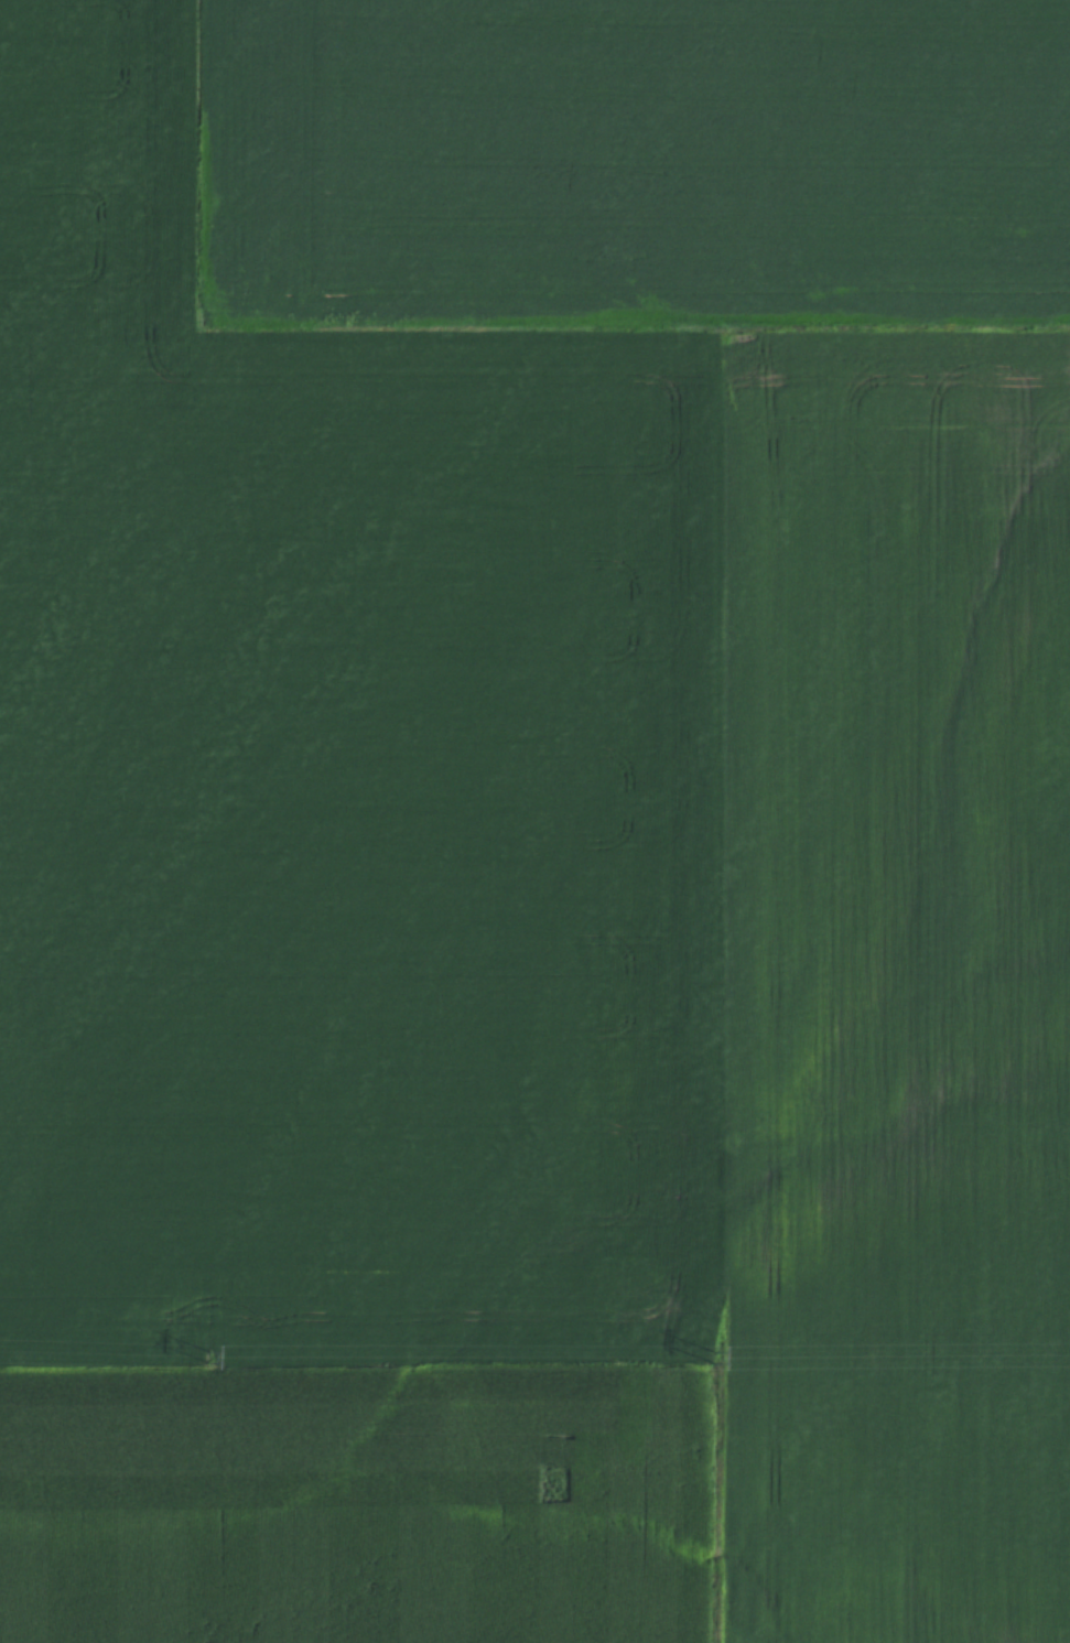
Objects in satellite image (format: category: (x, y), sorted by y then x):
power tower: (208, 1358)
power tower: (715, 1358)

